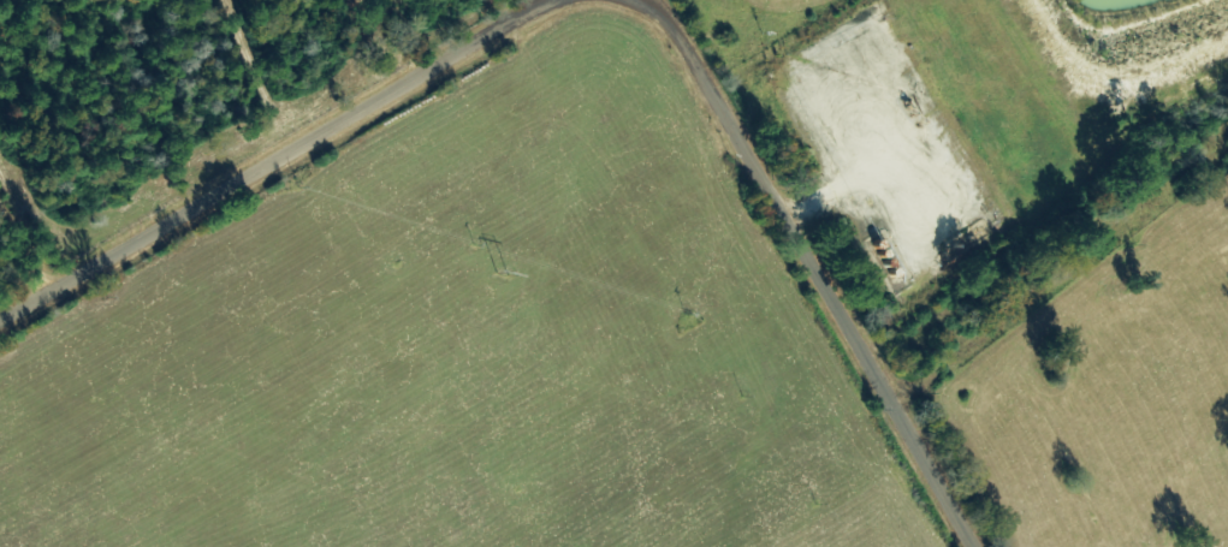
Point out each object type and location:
road: (289, 159)
road: (806, 260)
road: (1057, 262)
power tower: (502, 279)

